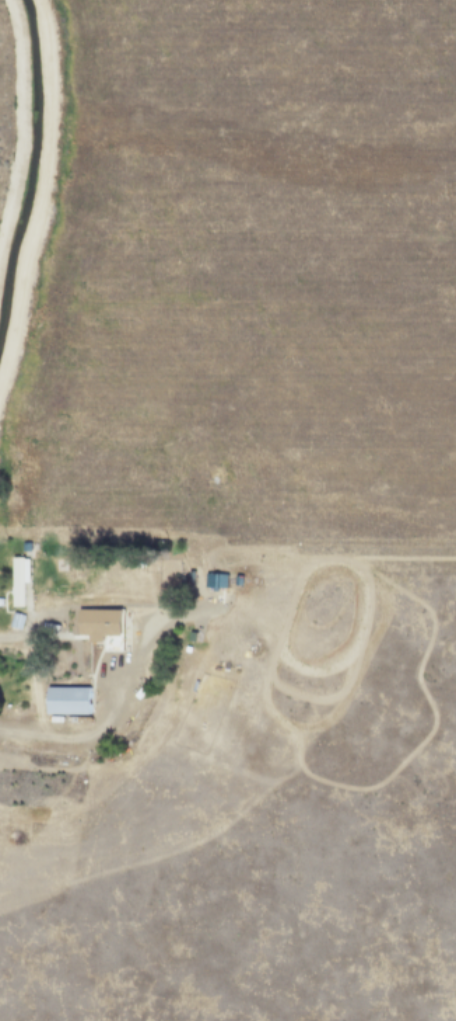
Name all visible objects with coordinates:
building: (17, 582)
building: (96, 624)
road: (31, 632)
building: (65, 700)
road: (117, 713)

